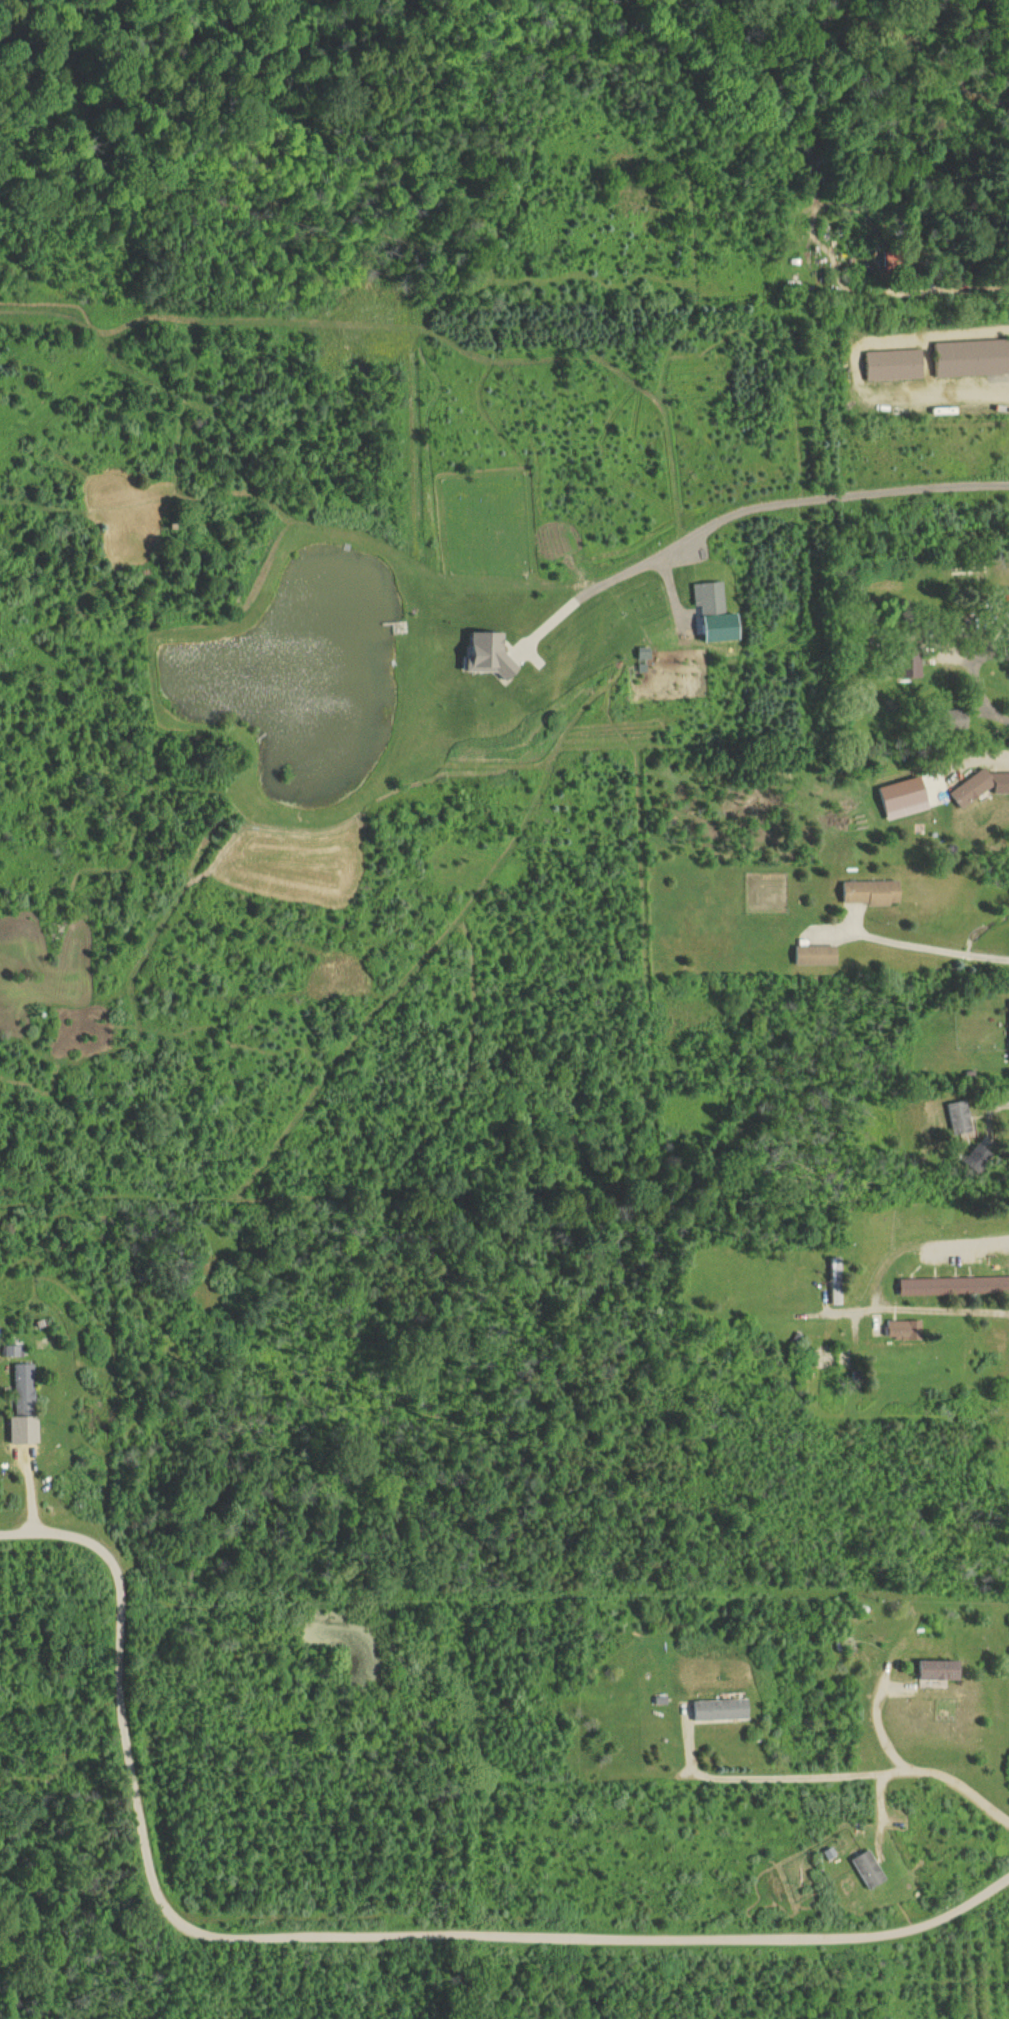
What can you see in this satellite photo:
road: (902, 292)
road: (855, 355)
building: (971, 357)
building: (893, 364)
road: (751, 499)
building: (712, 611)
building: (486, 652)
building: (909, 664)
road: (974, 680)
building: (979, 785)
building: (901, 797)
building: (868, 891)
road: (928, 940)
building: (813, 954)
building: (1008, 1025)
road: (995, 1106)
building: (957, 1117)
building: (976, 1158)
road: (973, 1235)
building: (953, 1285)
building: (834, 1293)
road: (916, 1305)
building: (902, 1329)
building: (10, 1349)
building: (22, 1404)
road: (27, 1474)
building: (935, 1672)
building: (719, 1709)
road: (877, 1721)
road: (843, 1775)
building: (867, 1868)
road: (351, 1933)

